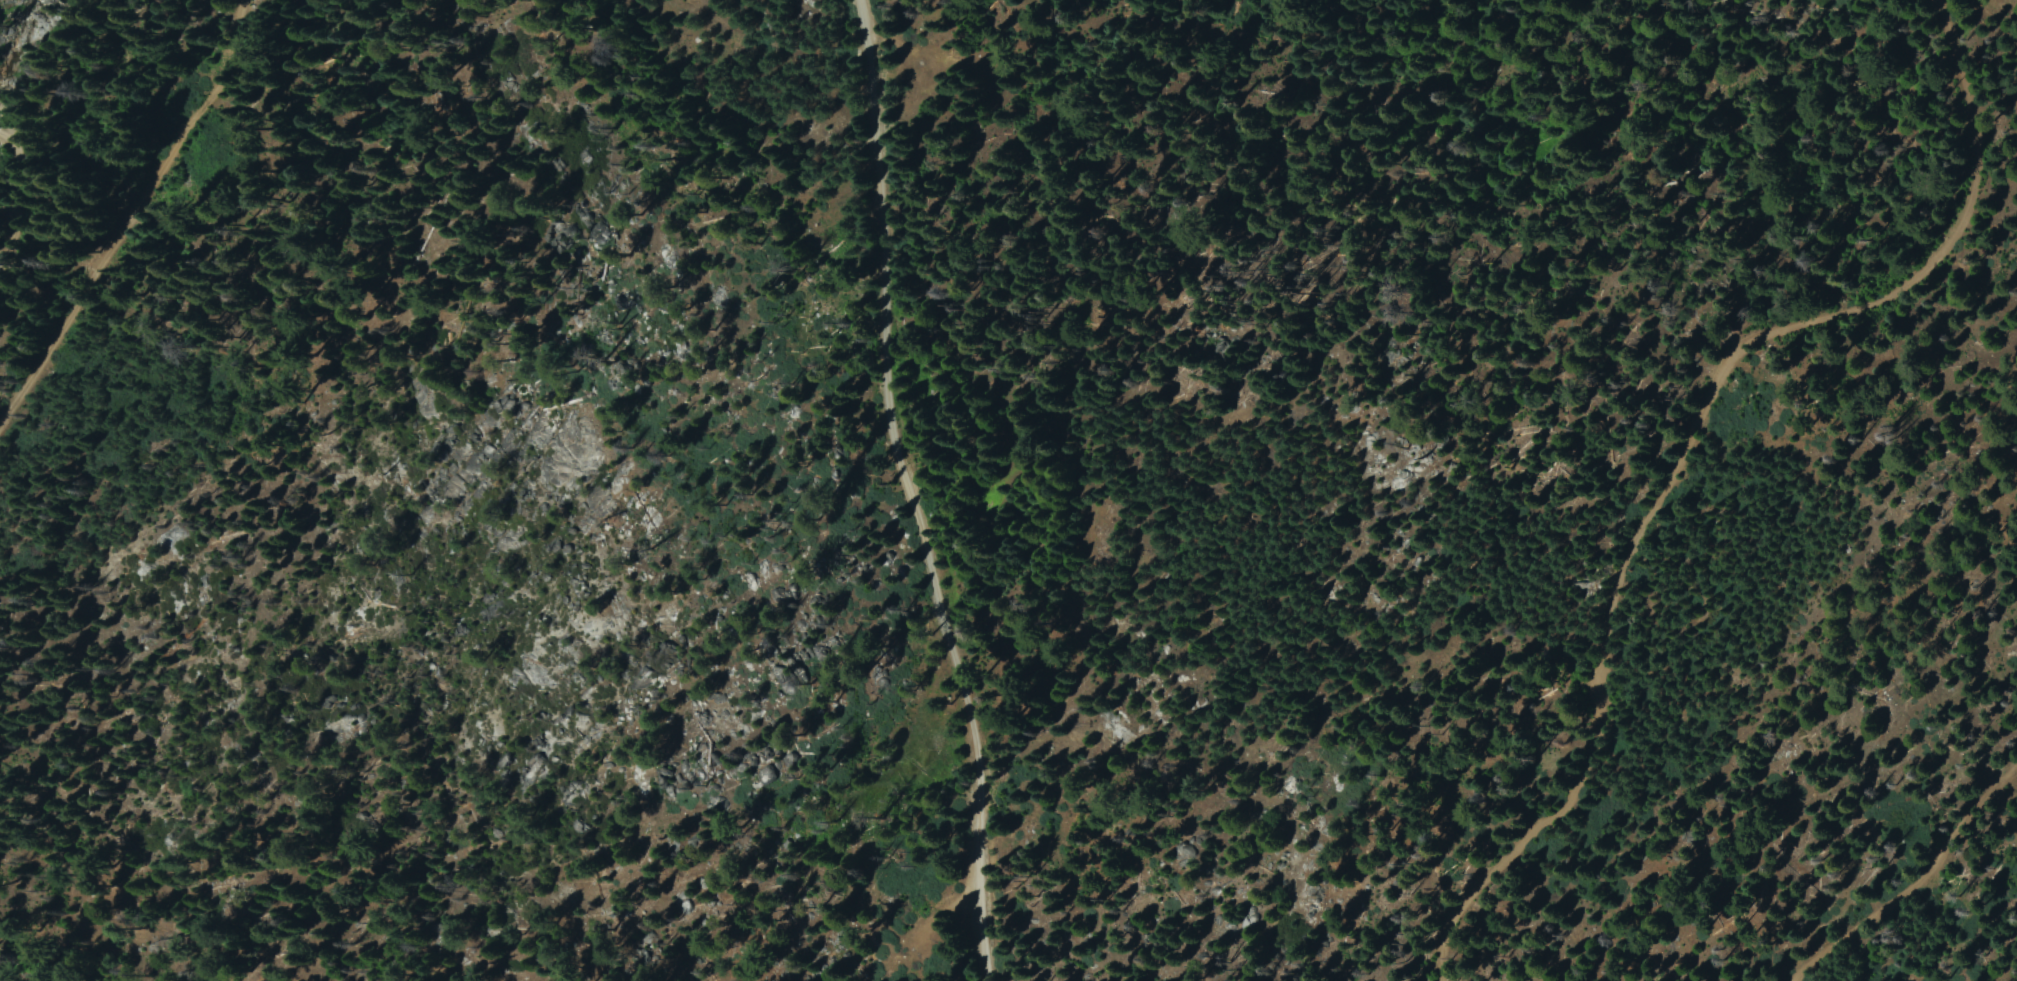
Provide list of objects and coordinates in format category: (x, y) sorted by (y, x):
road: (32, 194)
road: (131, 215)
road: (907, 493)

